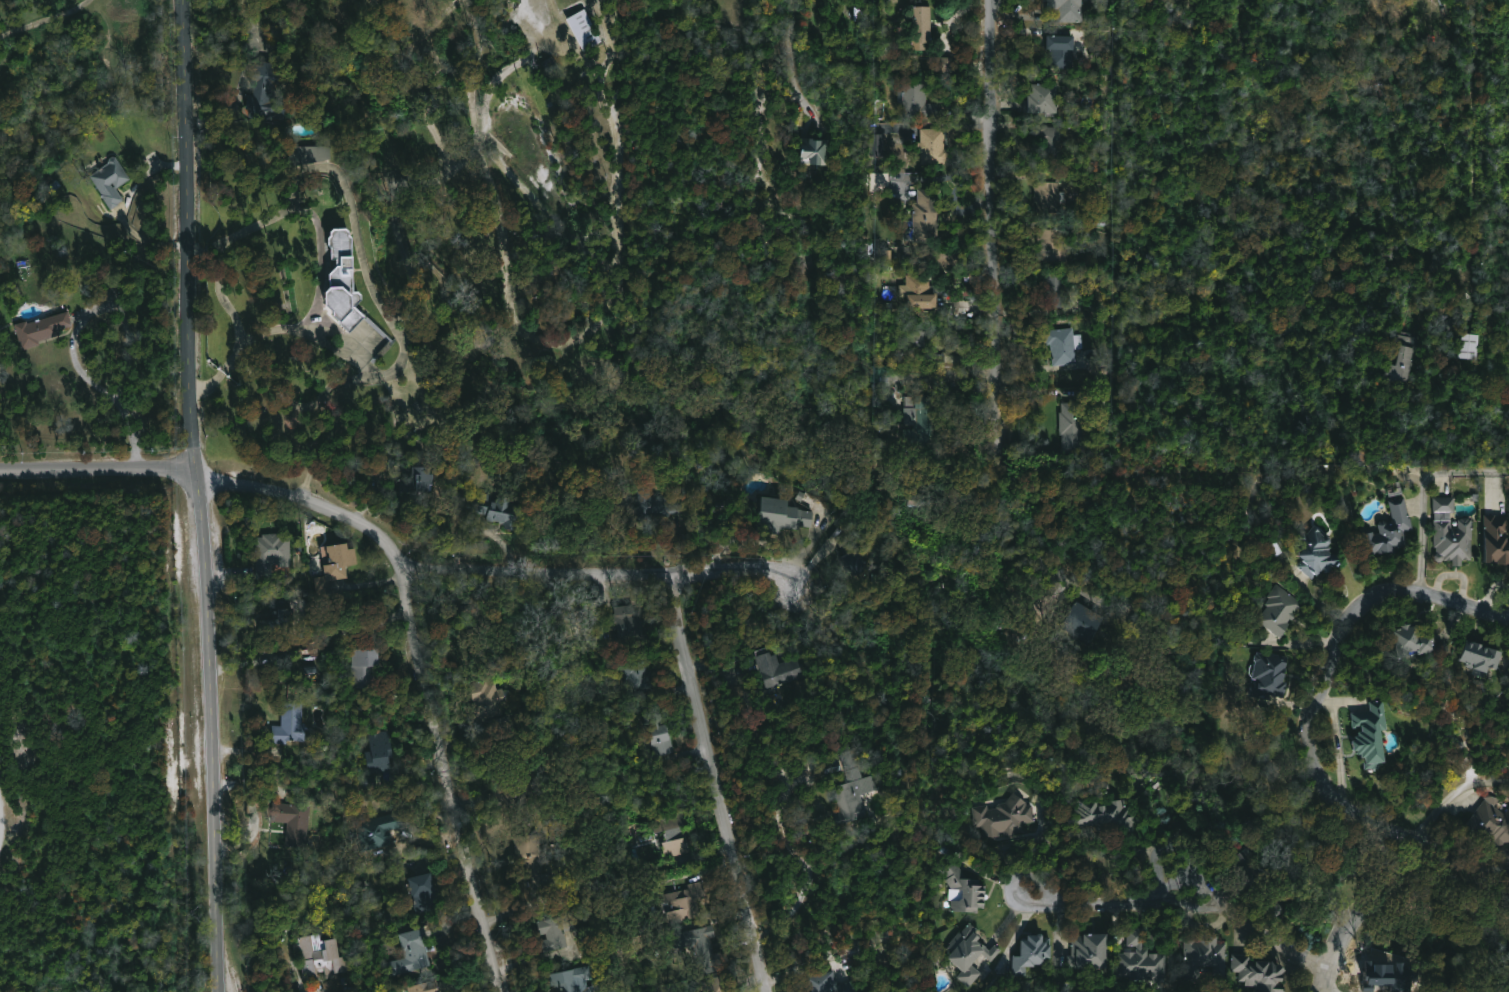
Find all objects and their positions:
building: (1064, 11)
road: (44, 20)
building: (921, 27)
building: (584, 29)
building: (1062, 50)
road: (793, 56)
building: (943, 64)
road: (243, 80)
building: (266, 92)
building: (1042, 99)
building: (918, 101)
building: (1052, 142)
building: (934, 147)
building: (817, 150)
building: (308, 154)
building: (110, 181)
building: (878, 181)
road: (996, 184)
building: (1050, 197)
building: (928, 217)
road: (186, 237)
building: (1054, 245)
road: (322, 272)
building: (343, 282)
building: (1056, 291)
building: (921, 292)
road: (126, 328)
building: (41, 329)
building: (919, 341)
building: (1066, 345)
building: (1477, 347)
building: (1407, 360)
building: (883, 386)
road: (112, 396)
building: (926, 420)
building: (1075, 427)
building: (443, 442)
road: (97, 471)
road: (1463, 471)
building: (419, 478)
building: (657, 503)
building: (497, 510)
building: (785, 512)
building: (1395, 529)
building: (1455, 531)
building: (1499, 535)
road: (1423, 537)
building: (272, 551)
building: (1320, 552)
building: (853, 558)
building: (337, 560)
road: (599, 574)
road: (1455, 600)
building: (1281, 610)
building: (277, 621)
building: (1088, 621)
building: (627, 624)
building: (1416, 639)
building: (1487, 656)
building: (362, 664)
road: (423, 666)
building: (779, 670)
building: (638, 674)
building: (1271, 674)
building: (488, 700)
road: (1315, 708)
building: (288, 724)
road: (211, 733)
building: (656, 733)
building: (1372, 733)
building: (376, 756)
road: (717, 782)
building: (855, 788)
building: (506, 794)
road: (1451, 794)
building: (1009, 813)
road: (5, 816)
building: (1112, 818)
building: (1492, 820)
building: (292, 821)
building: (668, 834)
road: (807, 848)
building: (1345, 852)
building: (532, 858)
road: (1453, 863)
building: (1252, 879)
road: (1019, 888)
building: (423, 890)
building: (968, 891)
road: (1366, 902)
building: (687, 904)
road: (1205, 904)
building: (587, 913)
building: (557, 931)
building: (700, 948)
building: (1091, 951)
building: (411, 953)
building: (1035, 954)
building: (1203, 954)
building: (973, 955)
building: (320, 957)
building: (1142, 957)
building: (1261, 974)
road: (1325, 978)
road: (1329, 978)
building: (573, 980)
building: (830, 983)
building: (717, 985)
building: (423, 987)
road: (325, 991)

